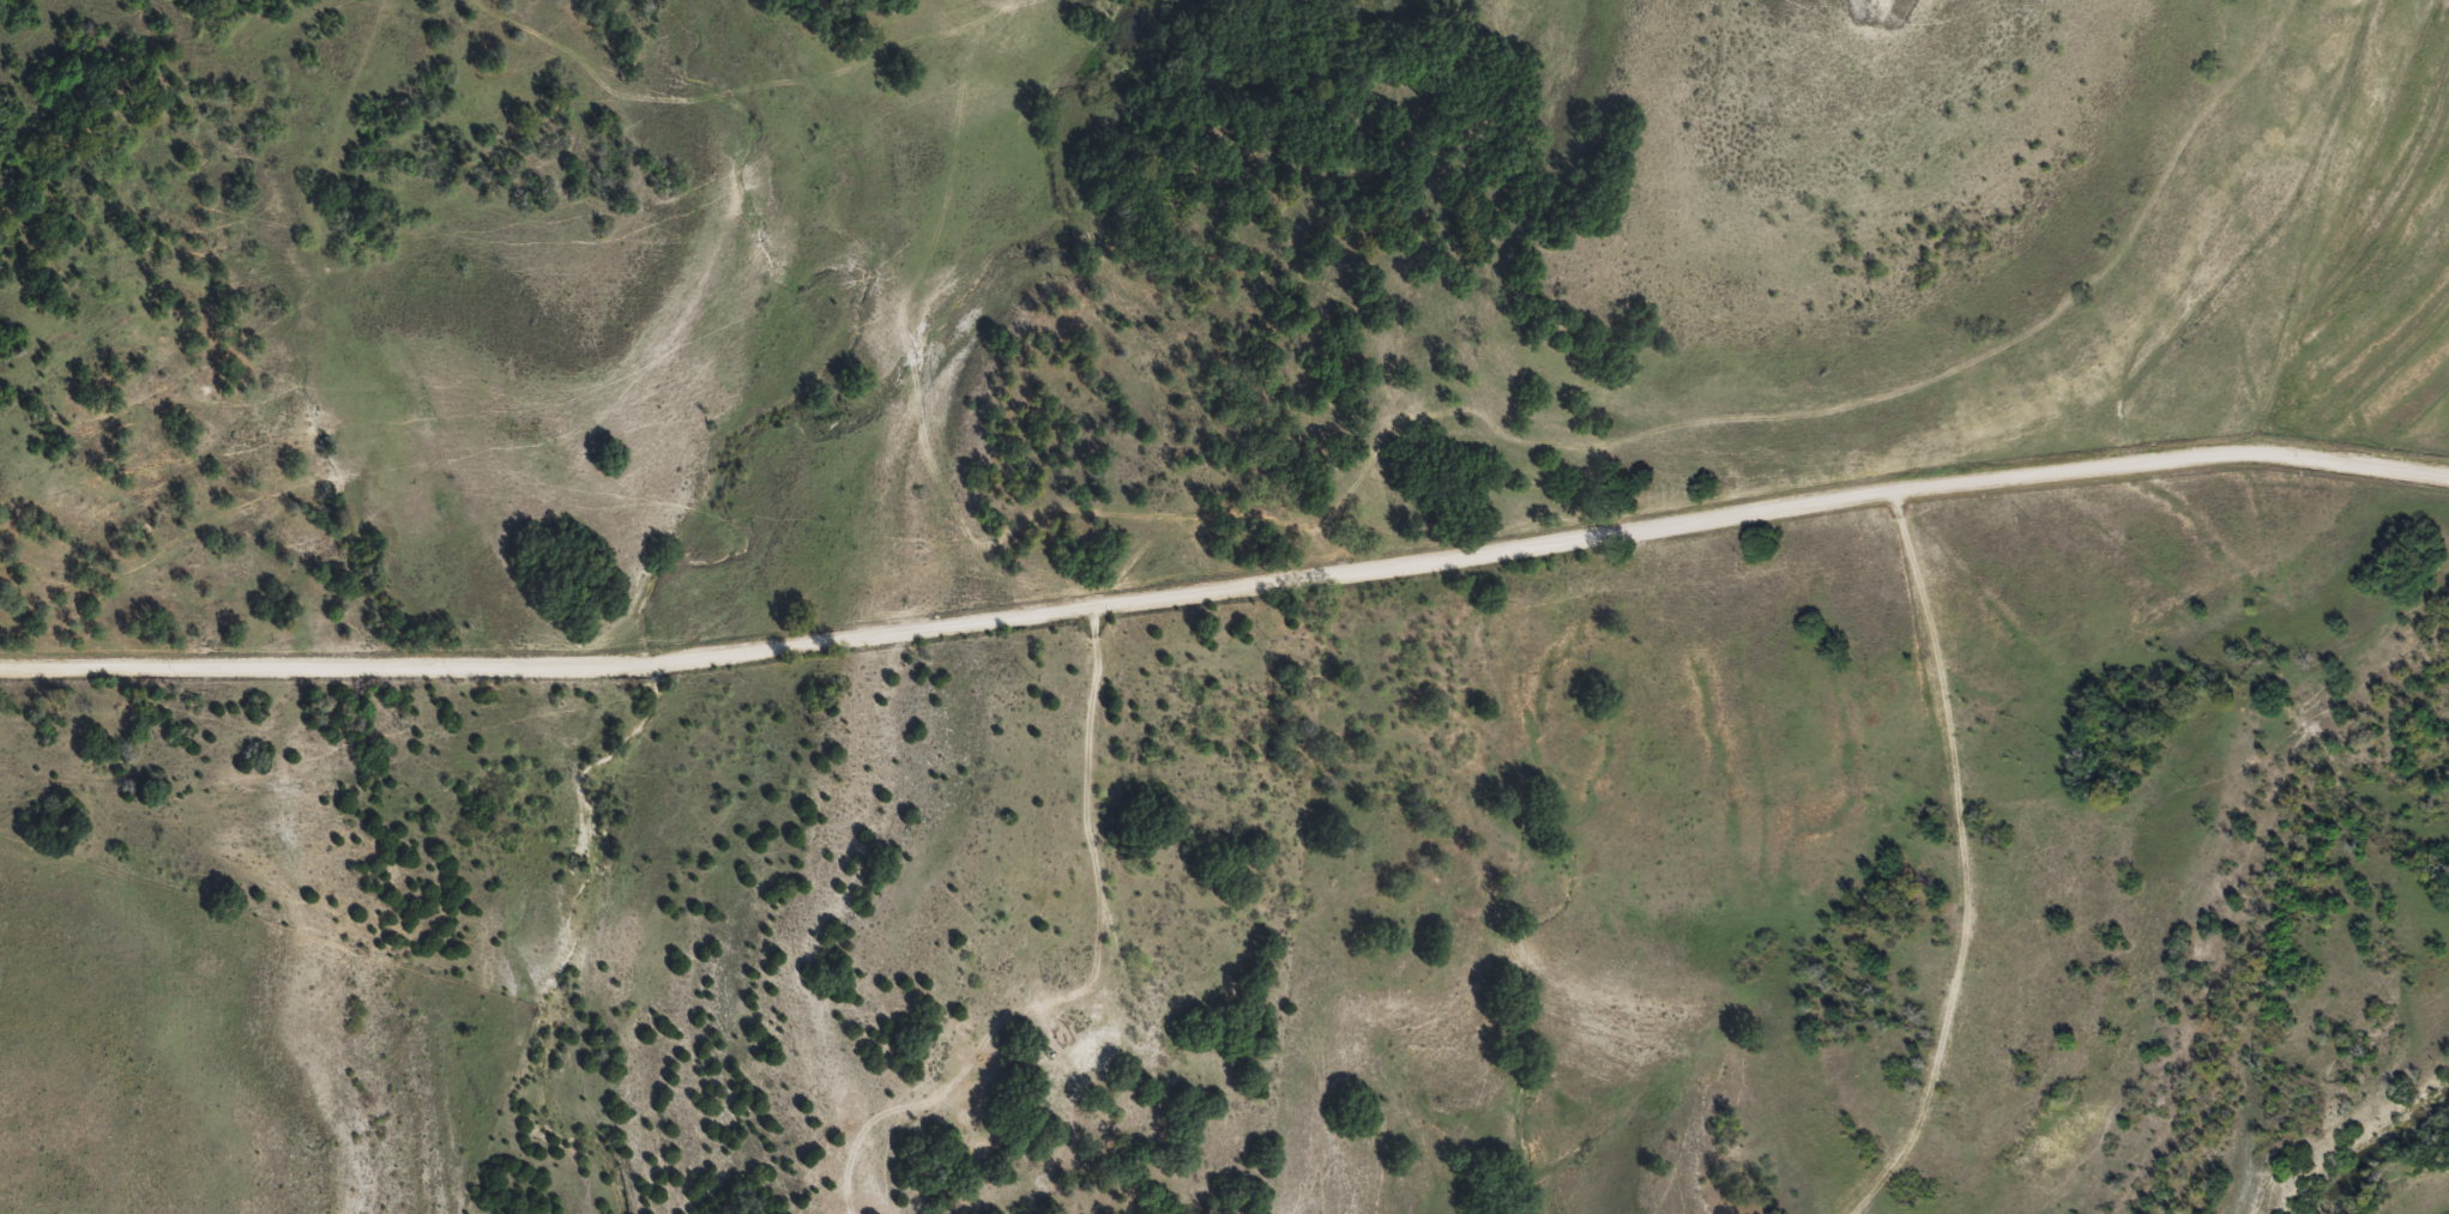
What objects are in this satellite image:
road: (1226, 593)
building: (1081, 1062)

